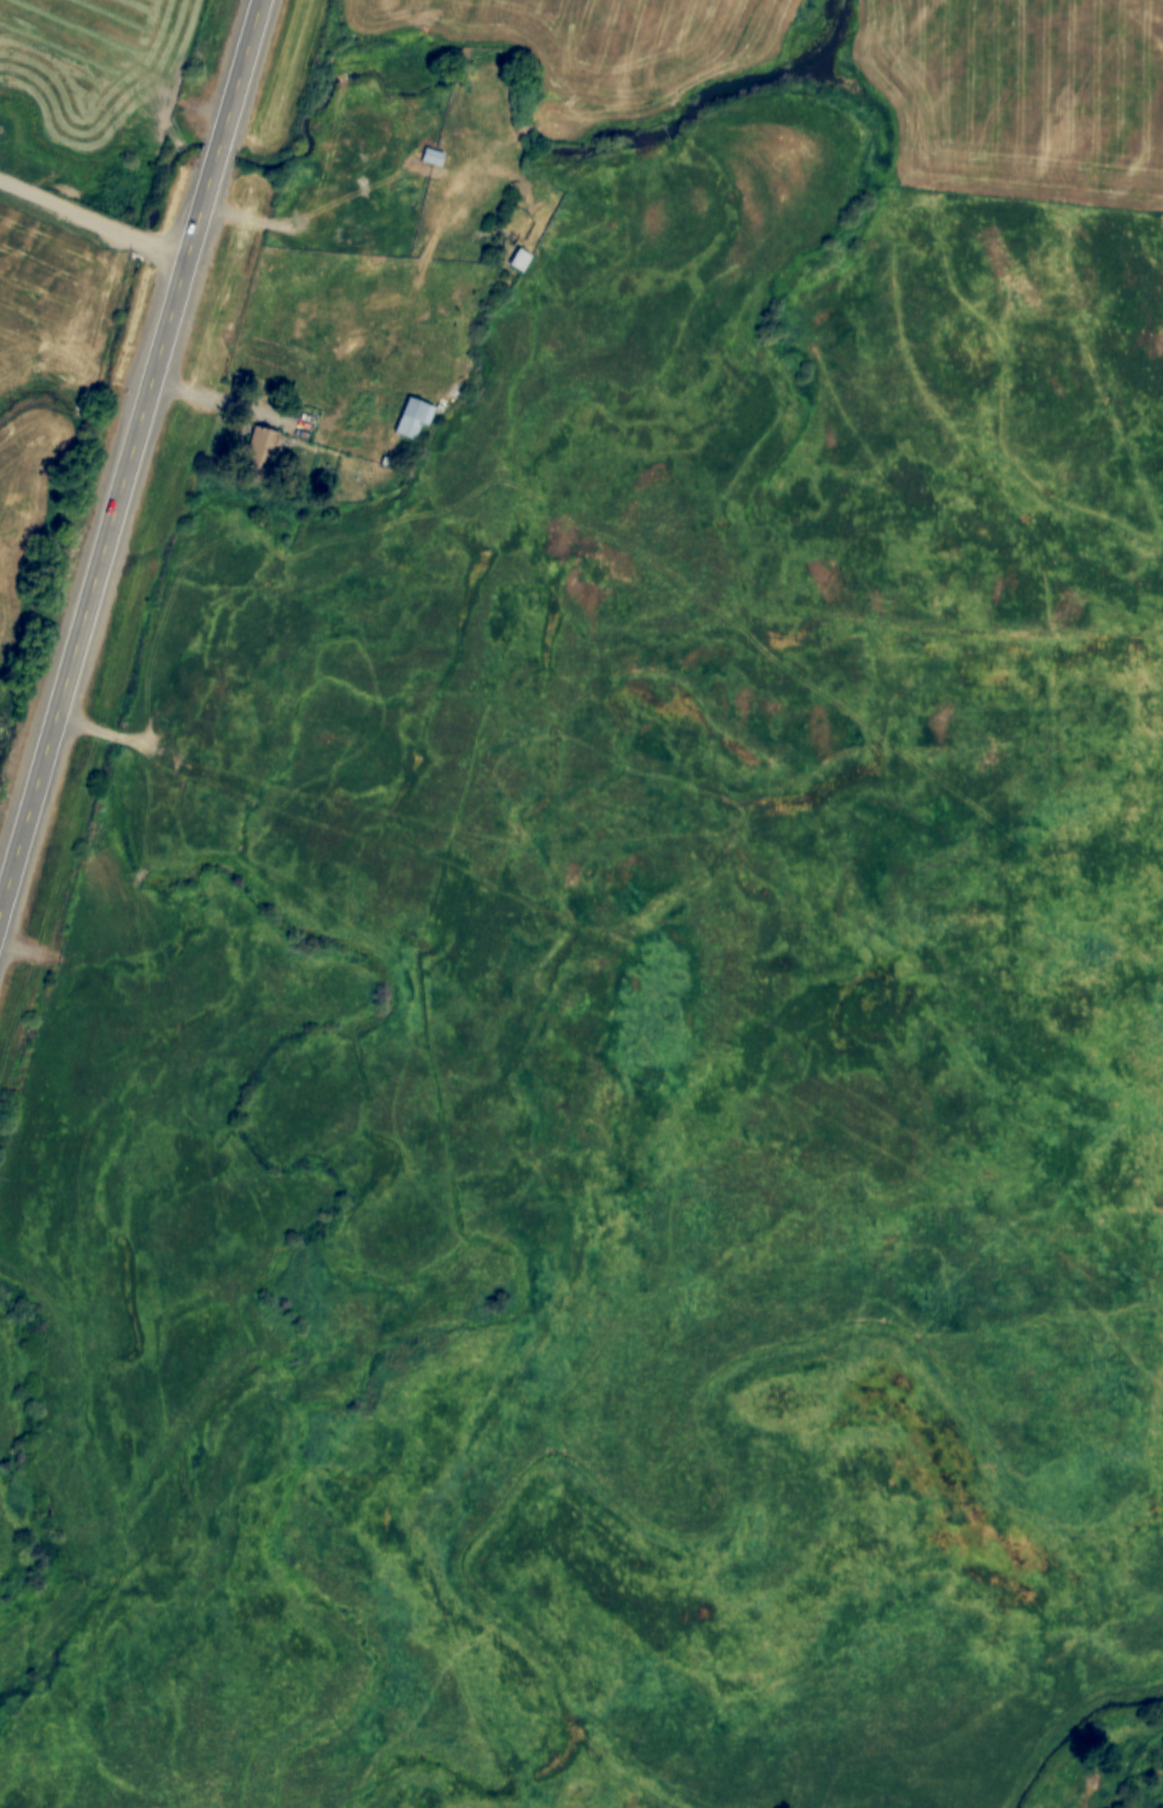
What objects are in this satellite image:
building: (434, 157)
road: (93, 218)
building: (518, 260)
building: (415, 418)
building: (265, 442)
road: (130, 456)

